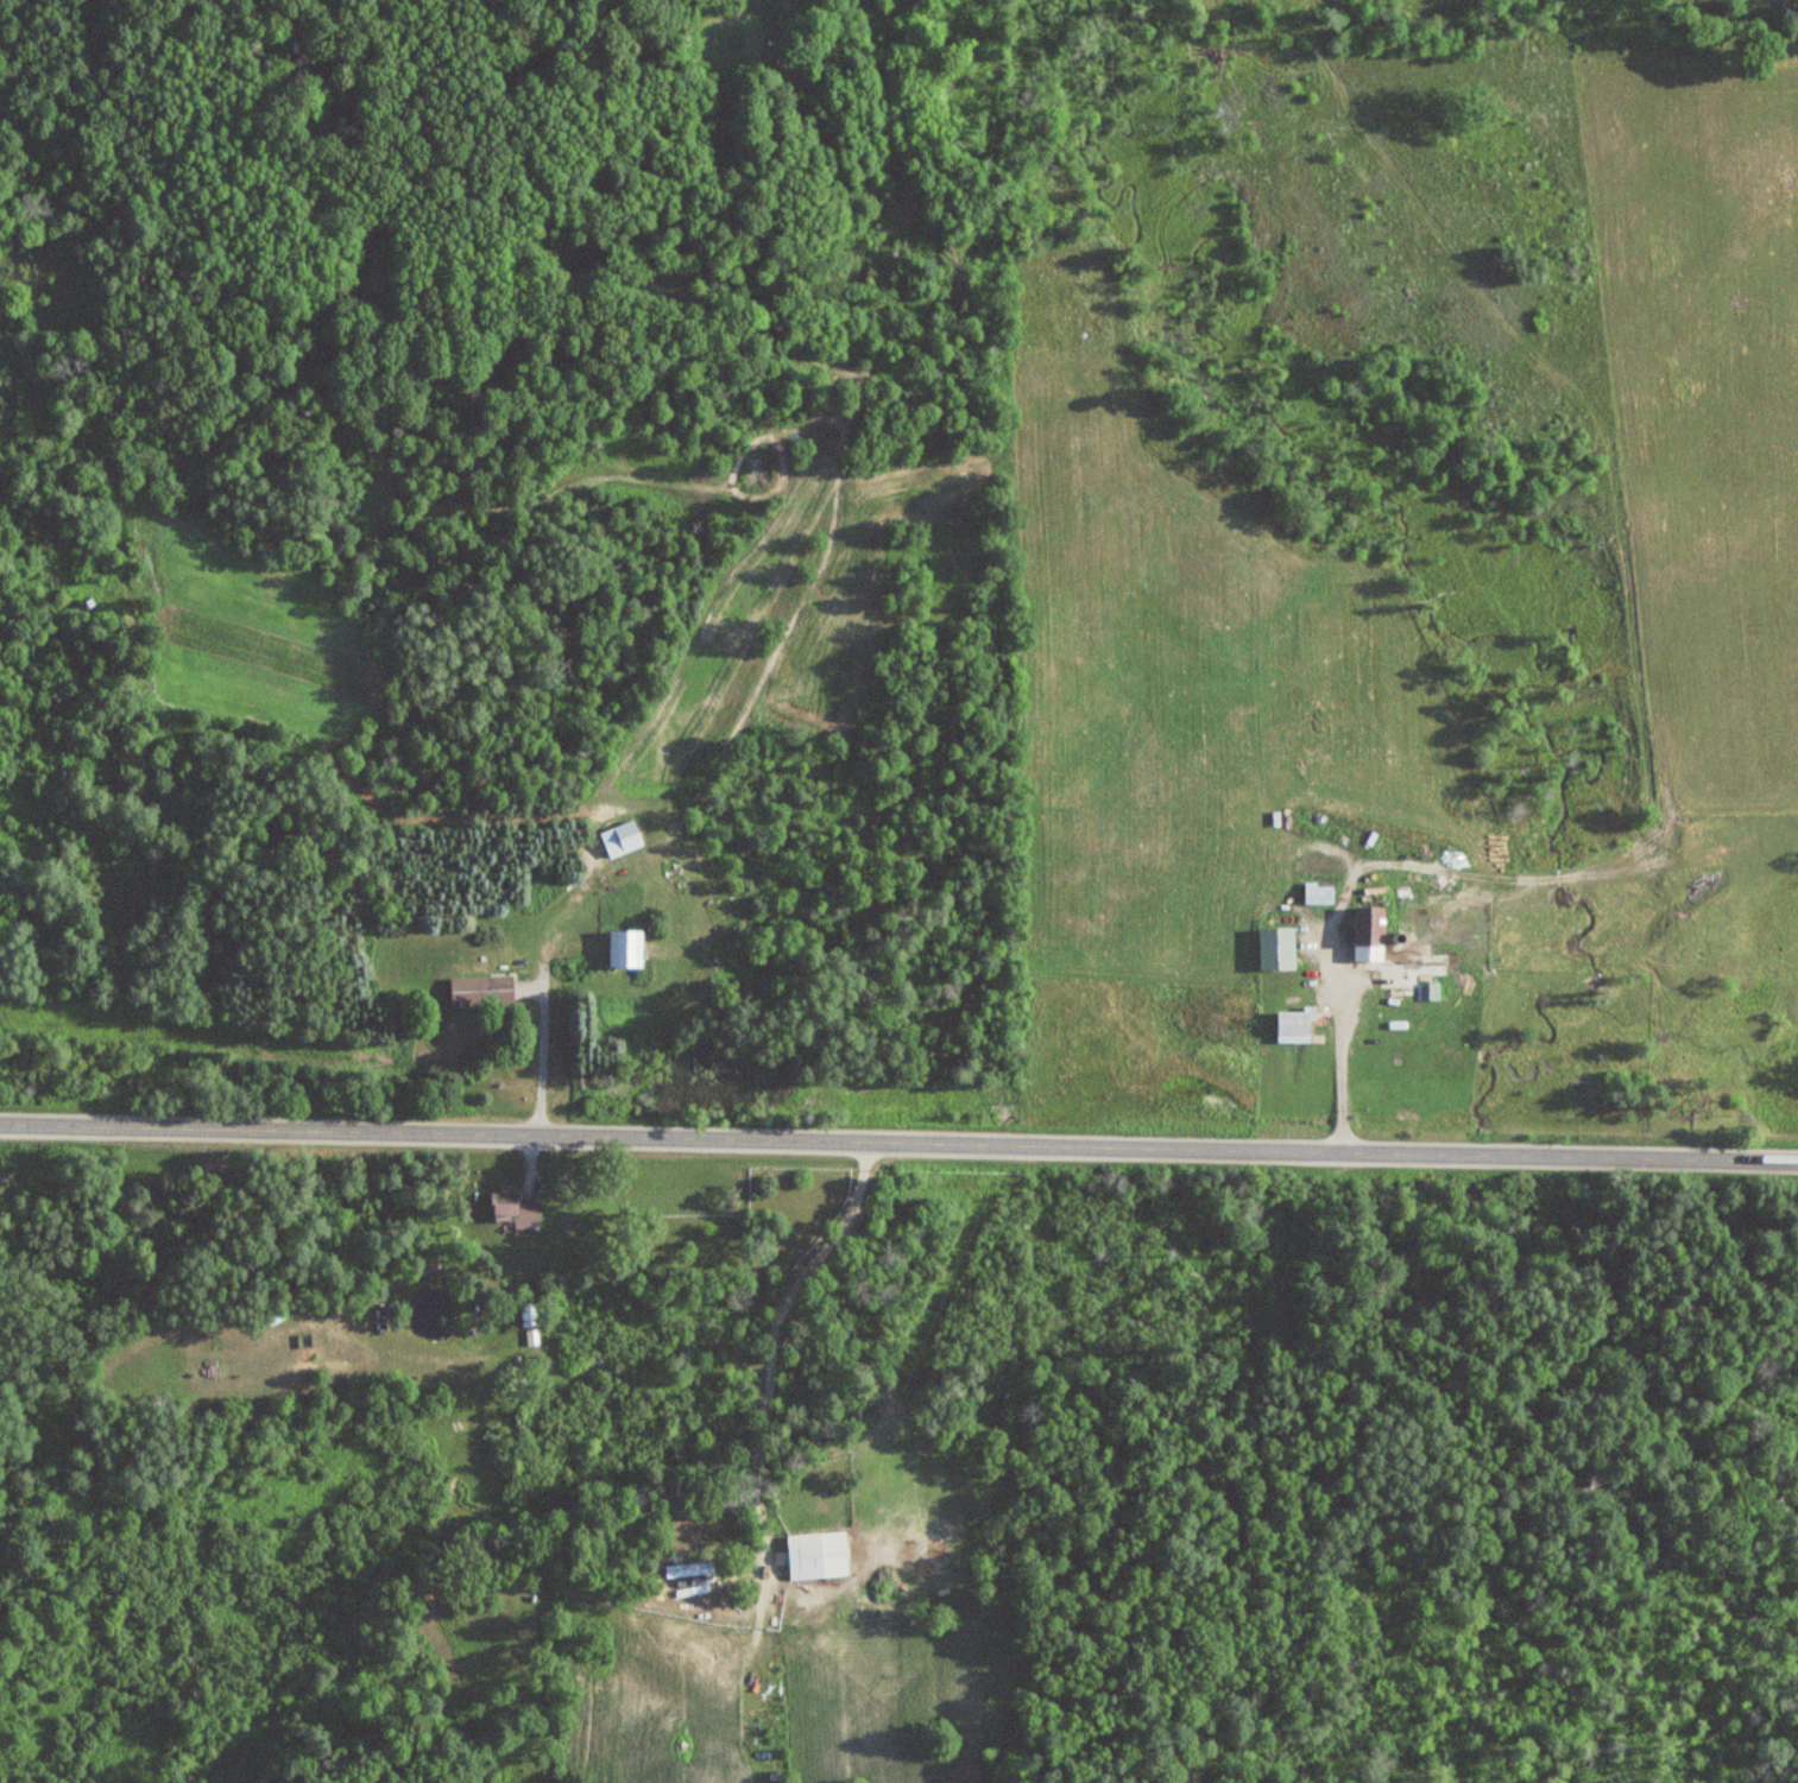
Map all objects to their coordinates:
building: (622, 839)
building: (1318, 894)
building: (1369, 935)
building: (625, 948)
building: (480, 991)
building: (1293, 1028)
road: (1335, 1038)
road: (898, 1139)
building: (518, 1210)
building: (526, 1313)
road: (770, 1340)
building: (816, 1556)
building: (688, 1569)

